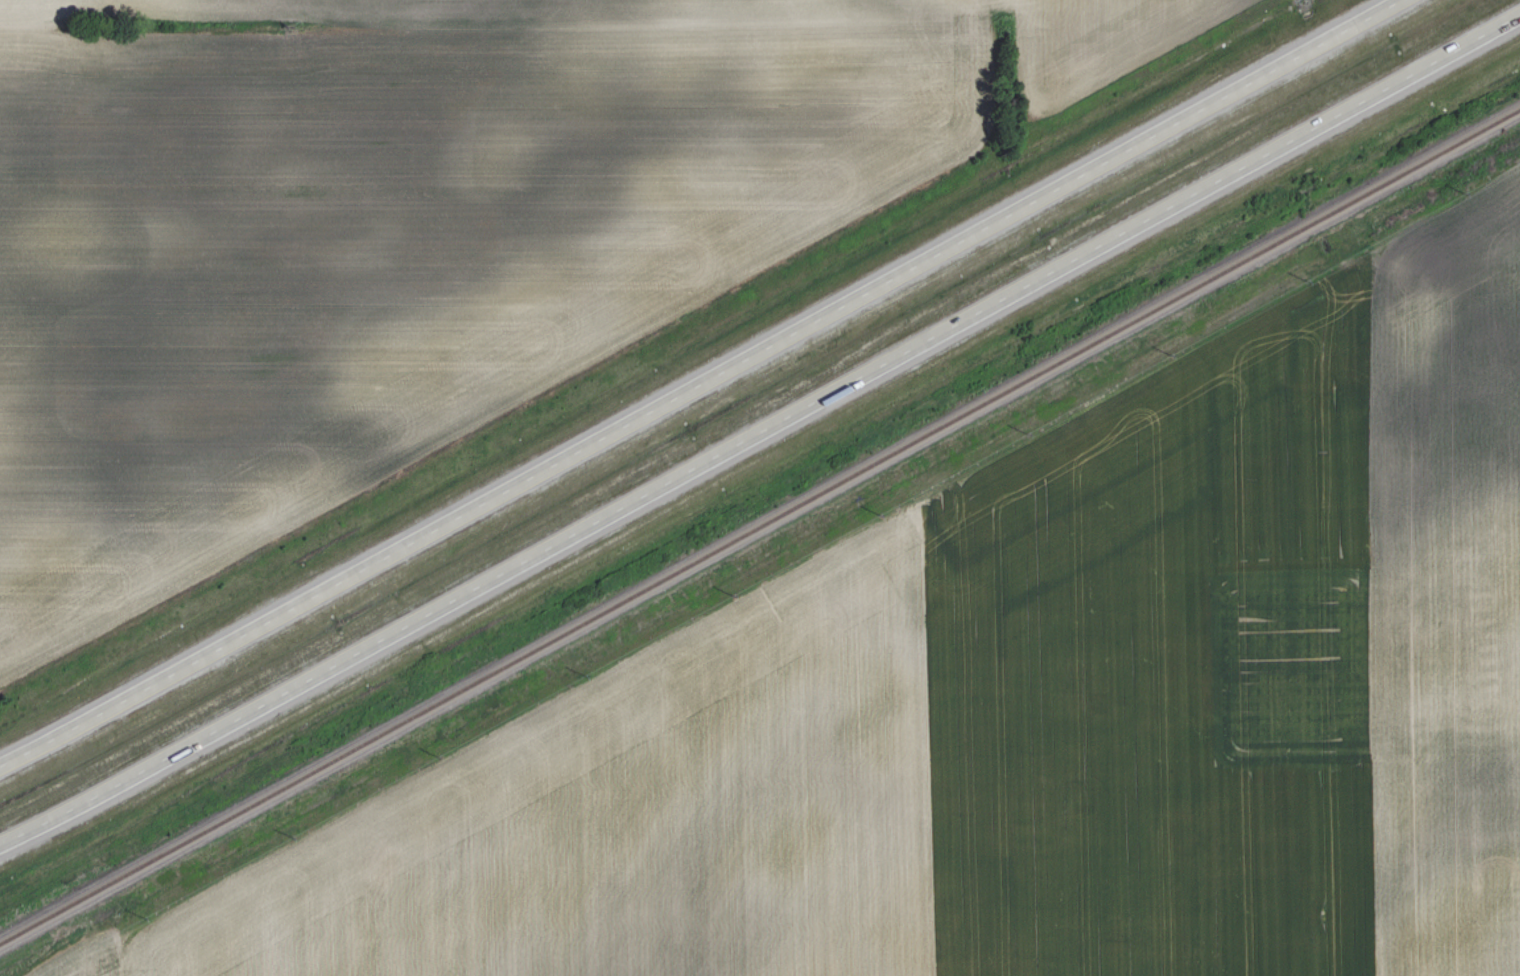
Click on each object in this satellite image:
road: (702, 384)
road: (760, 434)
railway: (759, 527)

